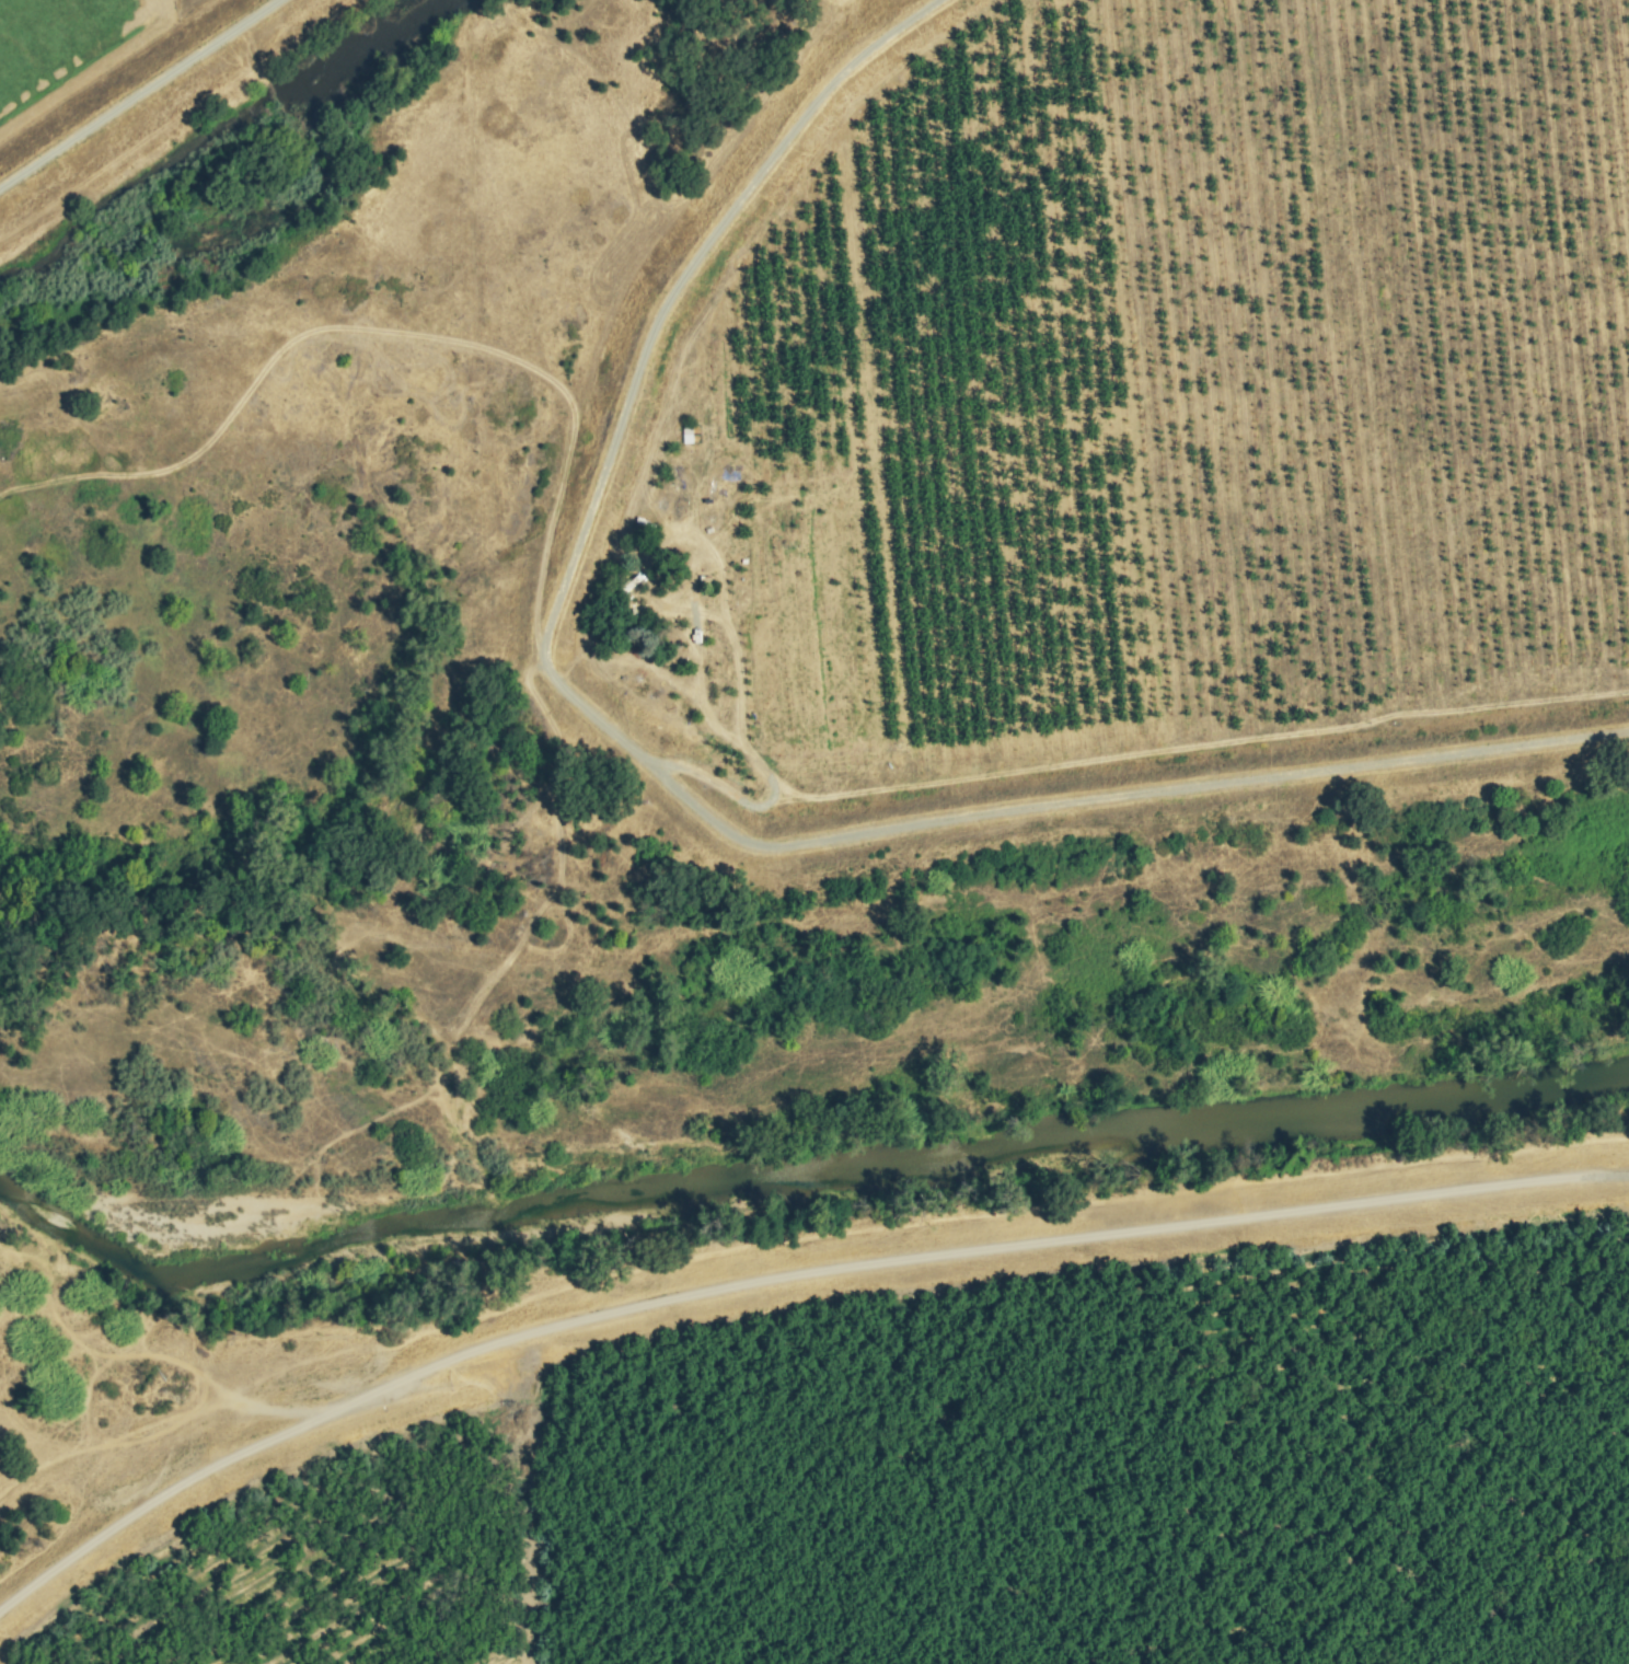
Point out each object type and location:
road: (139, 94)
road: (671, 302)
road: (1070, 801)
river: (799, 1183)
road: (1044, 1241)
road: (222, 1464)
road: (534, 1494)

